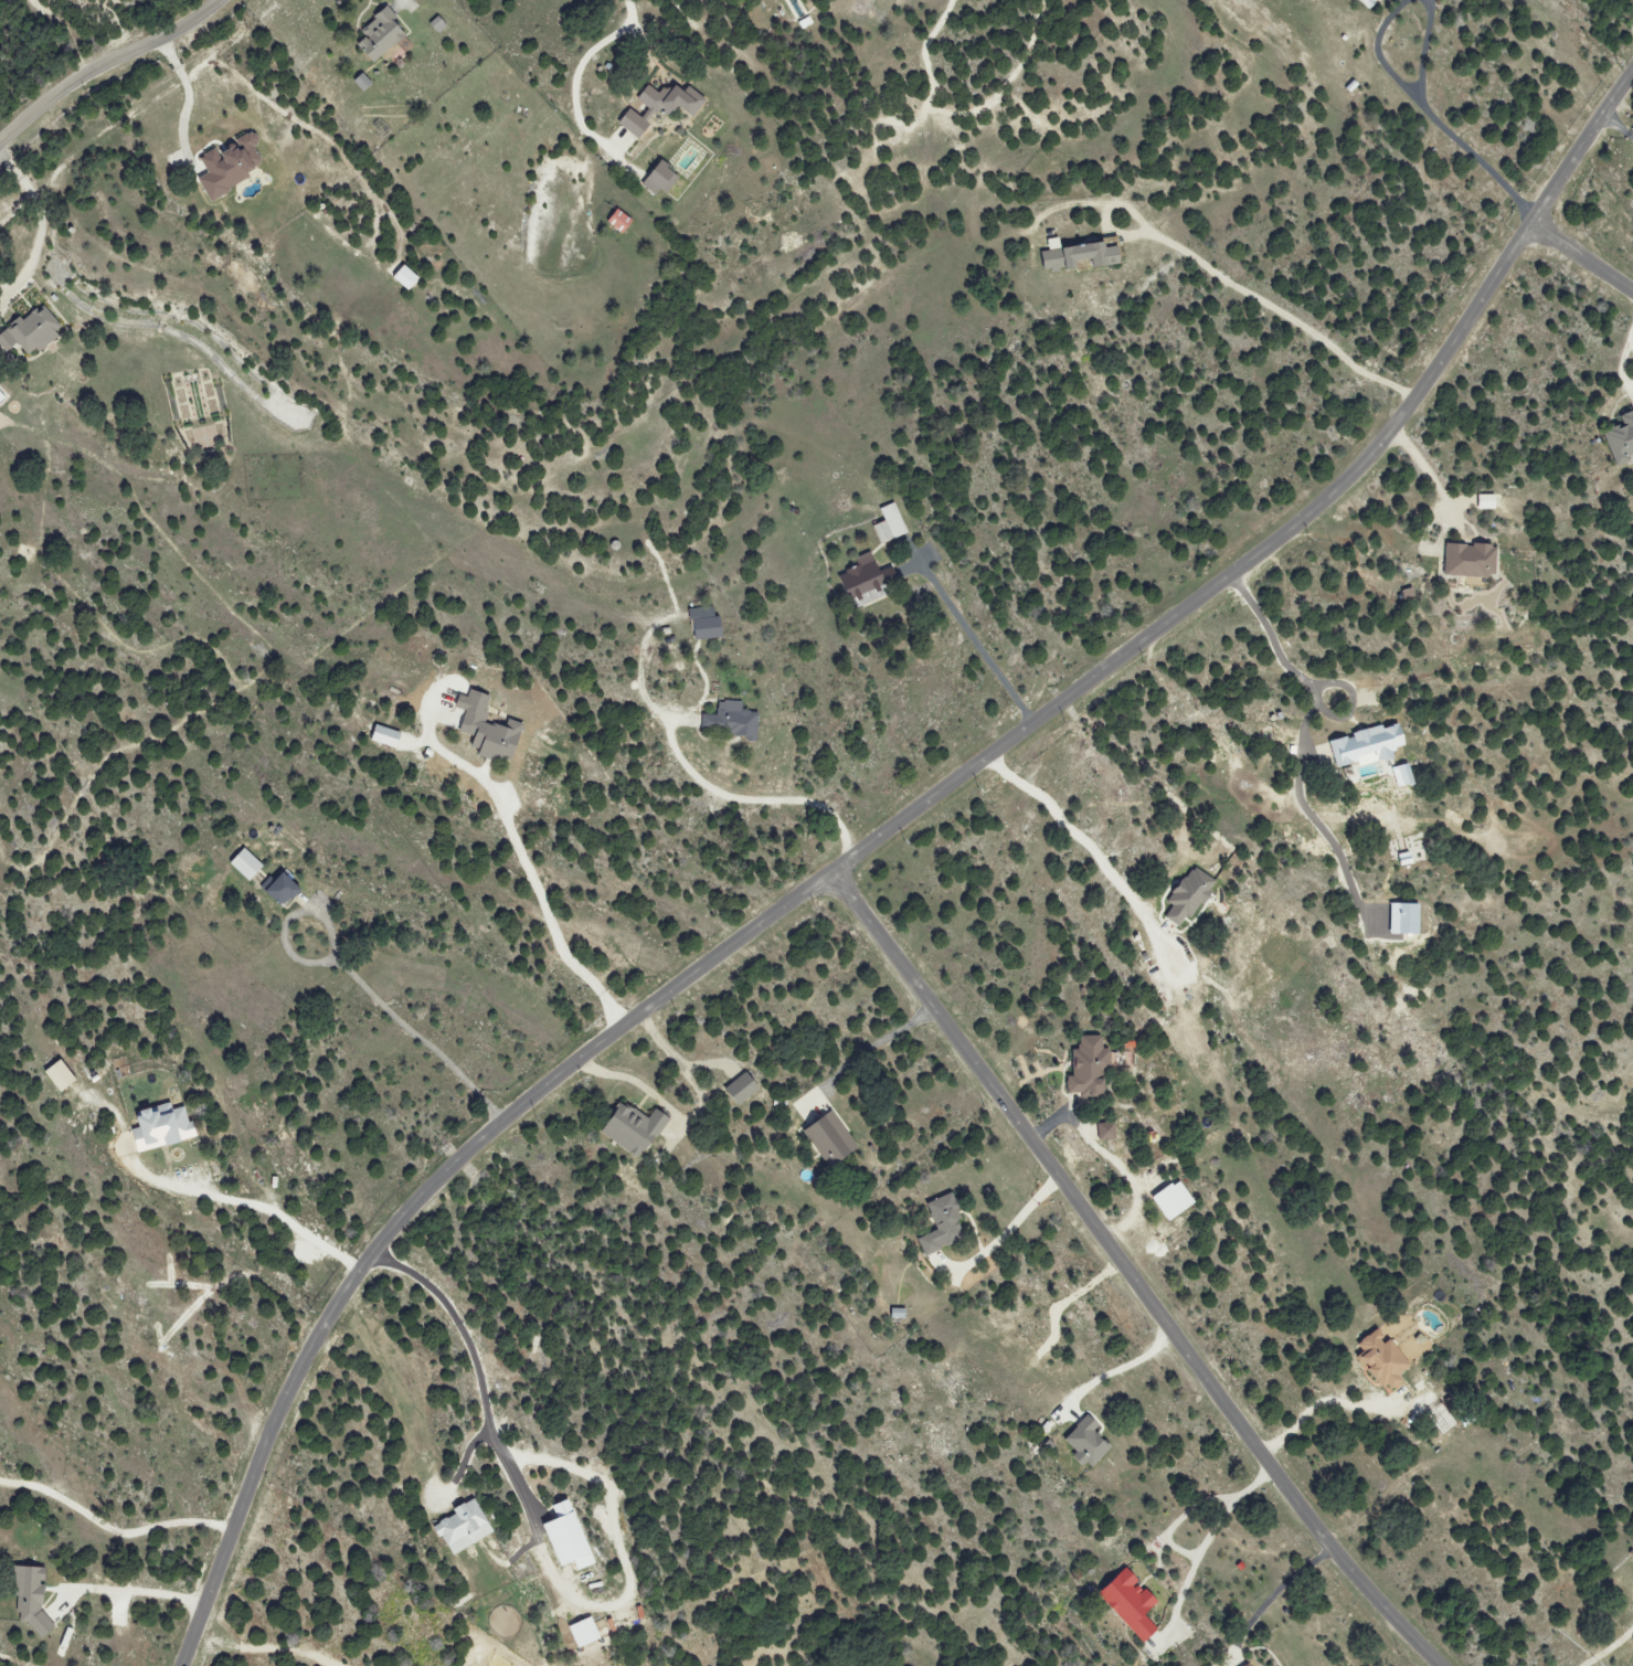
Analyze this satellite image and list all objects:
road: (399, 3)
building: (1364, 3)
building: (382, 35)
road: (106, 64)
road: (188, 99)
building: (672, 100)
road: (1443, 124)
building: (635, 125)
road: (1618, 126)
building: (232, 166)
road: (17, 172)
building: (662, 180)
road: (17, 209)
building: (621, 222)
road: (35, 247)
building: (1074, 254)
road: (1581, 262)
building: (407, 278)
road: (1276, 305)
building: (31, 333)
road: (1631, 336)
road: (1631, 343)
road: (1622, 364)
building: (1, 397)
building: (1618, 438)
road: (1424, 470)
building: (1483, 502)
building: (887, 524)
building: (1465, 561)
building: (863, 582)
building: (701, 624)
road: (975, 636)
road: (1309, 678)
building: (728, 721)
building: (483, 729)
building: (381, 736)
building: (1361, 746)
building: (1398, 775)
road: (752, 802)
road: (1080, 832)
road: (869, 845)
building: (241, 864)
building: (274, 891)
building: (1185, 895)
building: (1399, 920)
road: (403, 1029)
road: (870, 1053)
building: (1083, 1067)
building: (62, 1075)
building: (736, 1090)
building: (163, 1127)
building: (626, 1128)
building: (1101, 1133)
building: (828, 1136)
road: (1110, 1158)
building: (1167, 1200)
road: (257, 1203)
building: (936, 1223)
road: (1126, 1274)
building: (893, 1314)
building: (1378, 1361)
road: (1116, 1368)
road: (480, 1376)
road: (1319, 1405)
building: (1082, 1442)
road: (113, 1526)
building: (465, 1527)
building: (572, 1542)
road: (1194, 1551)
road: (135, 1588)
road: (1273, 1593)
building: (33, 1598)
building: (1124, 1603)
building: (585, 1633)
road: (1610, 1648)
building: (1243, 1664)

